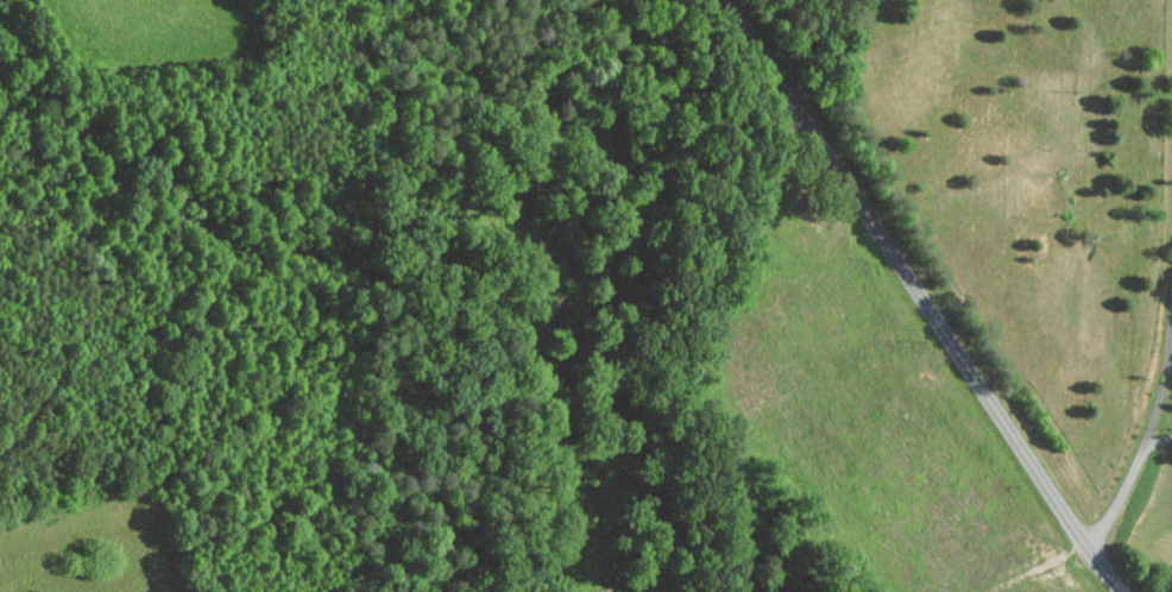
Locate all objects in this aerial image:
road: (928, 297)
road: (1160, 440)
road: (1135, 468)

